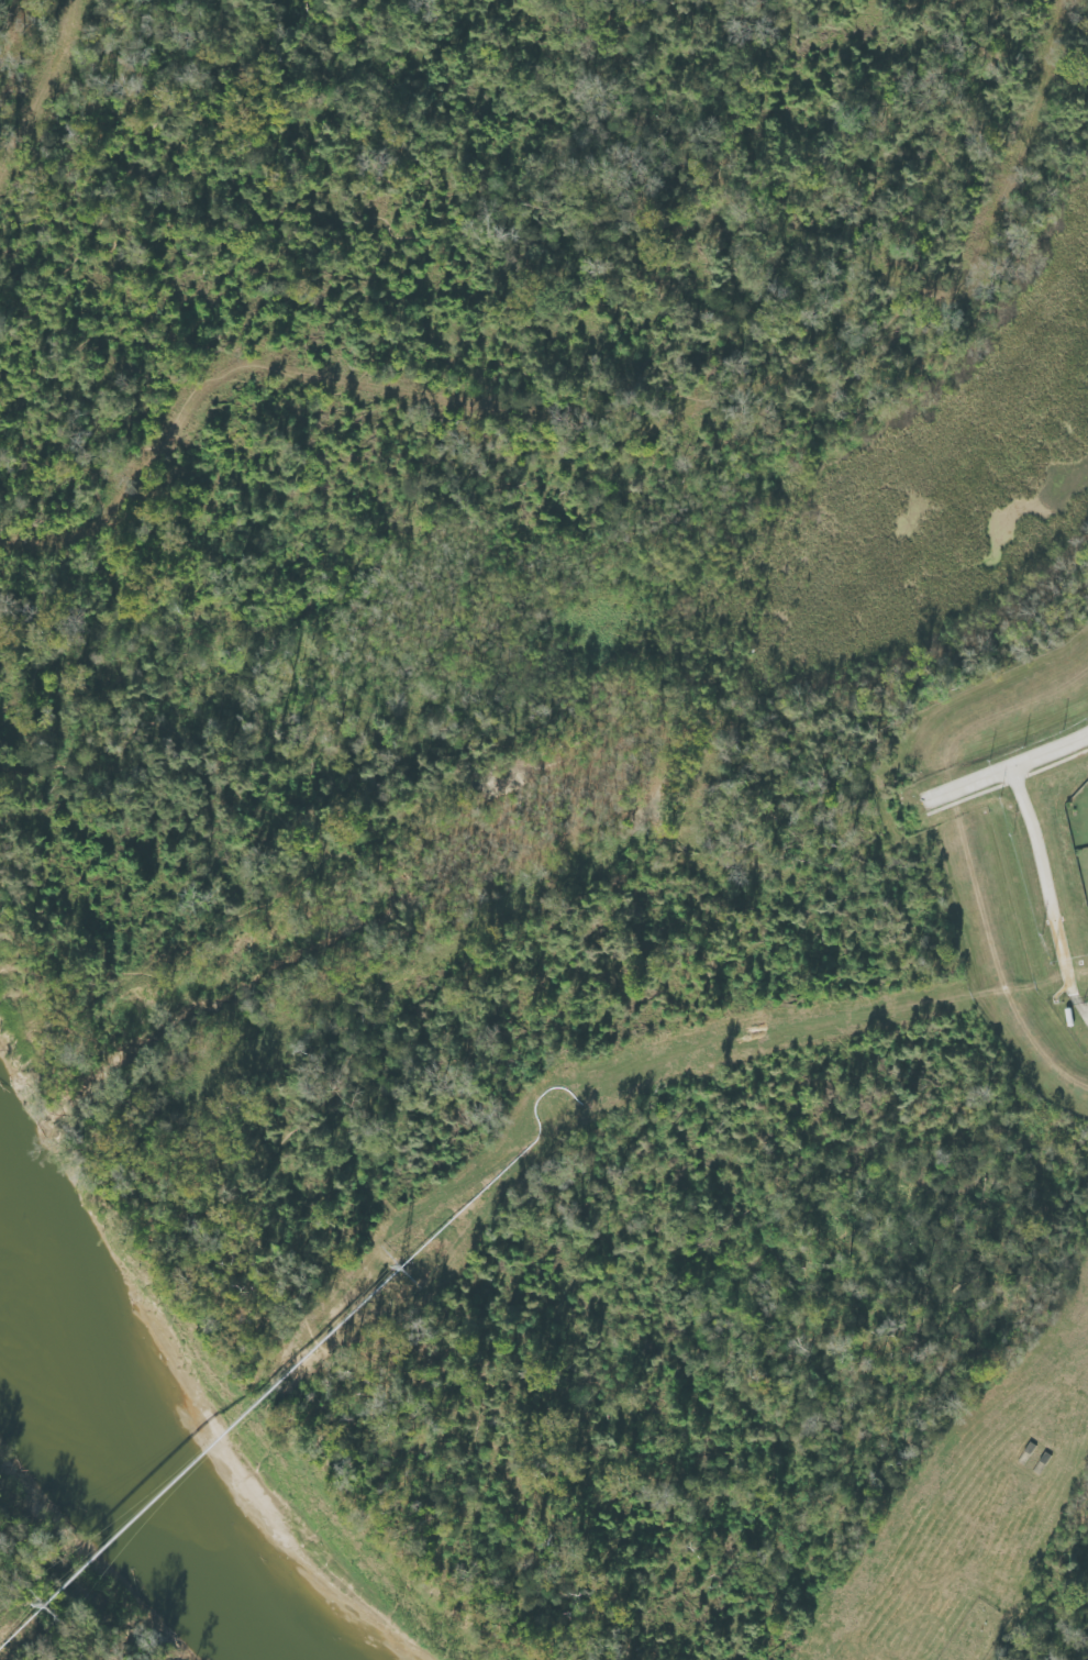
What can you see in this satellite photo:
road: (1004, 771)
road: (1008, 783)
road: (1048, 885)
river: (165, 1483)

